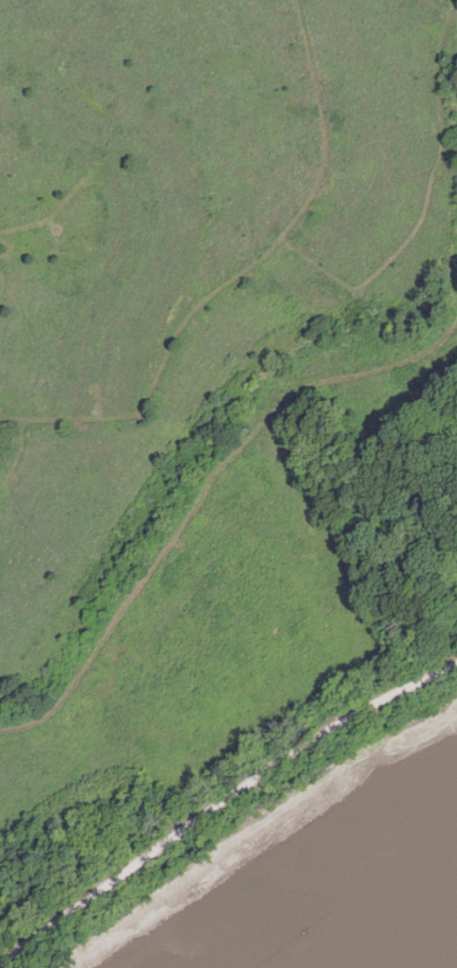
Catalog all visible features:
road: (224, 809)

